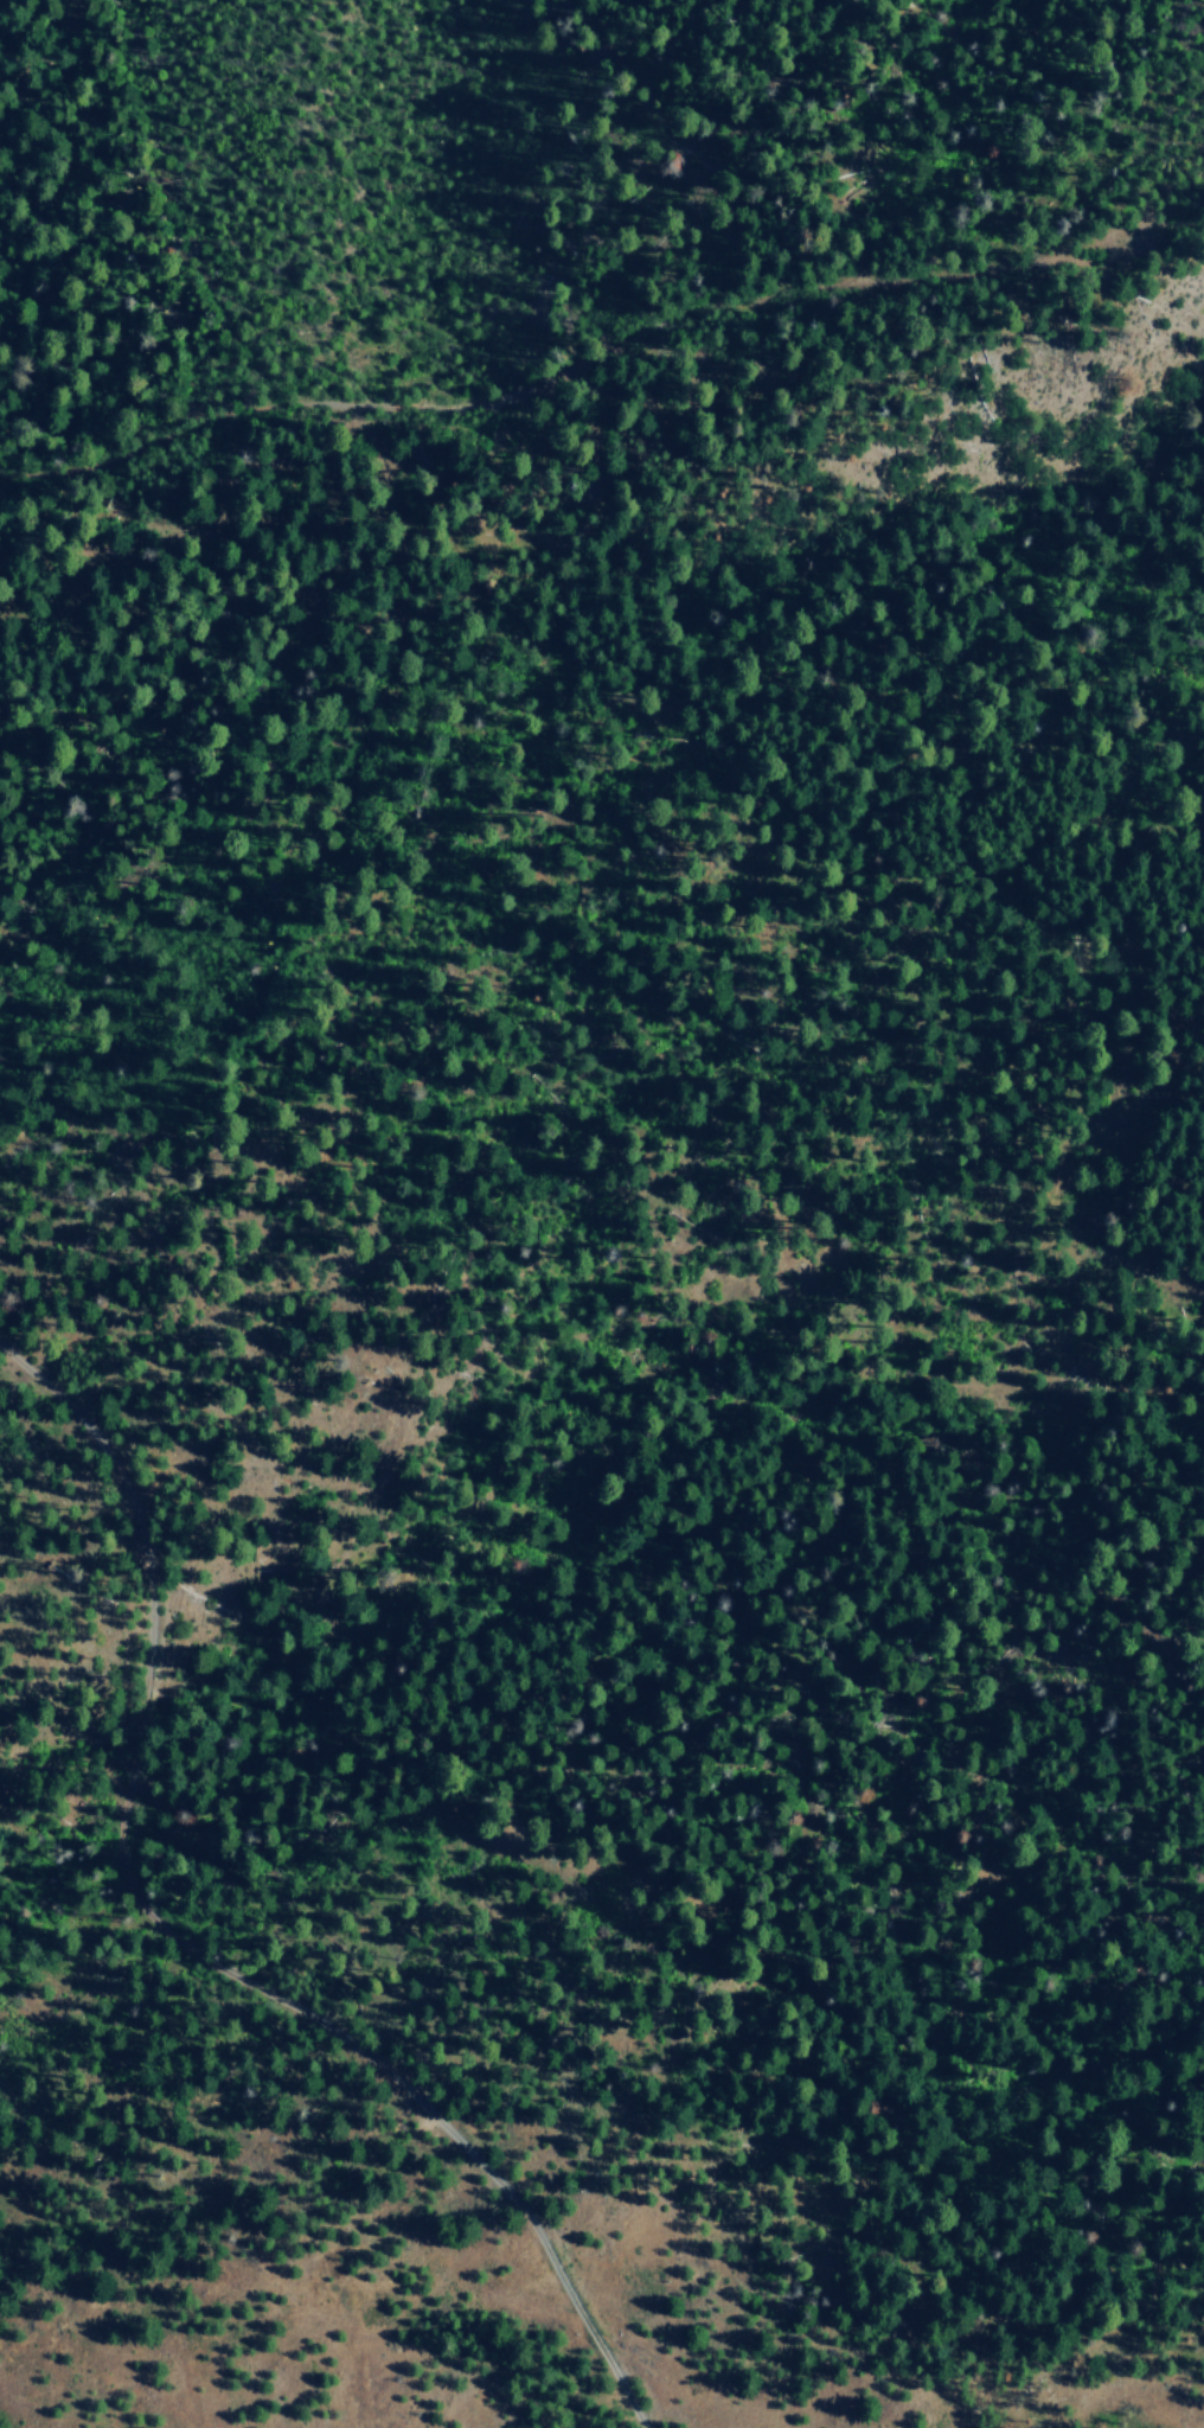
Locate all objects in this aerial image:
road: (572, 371)
road: (177, 1949)

